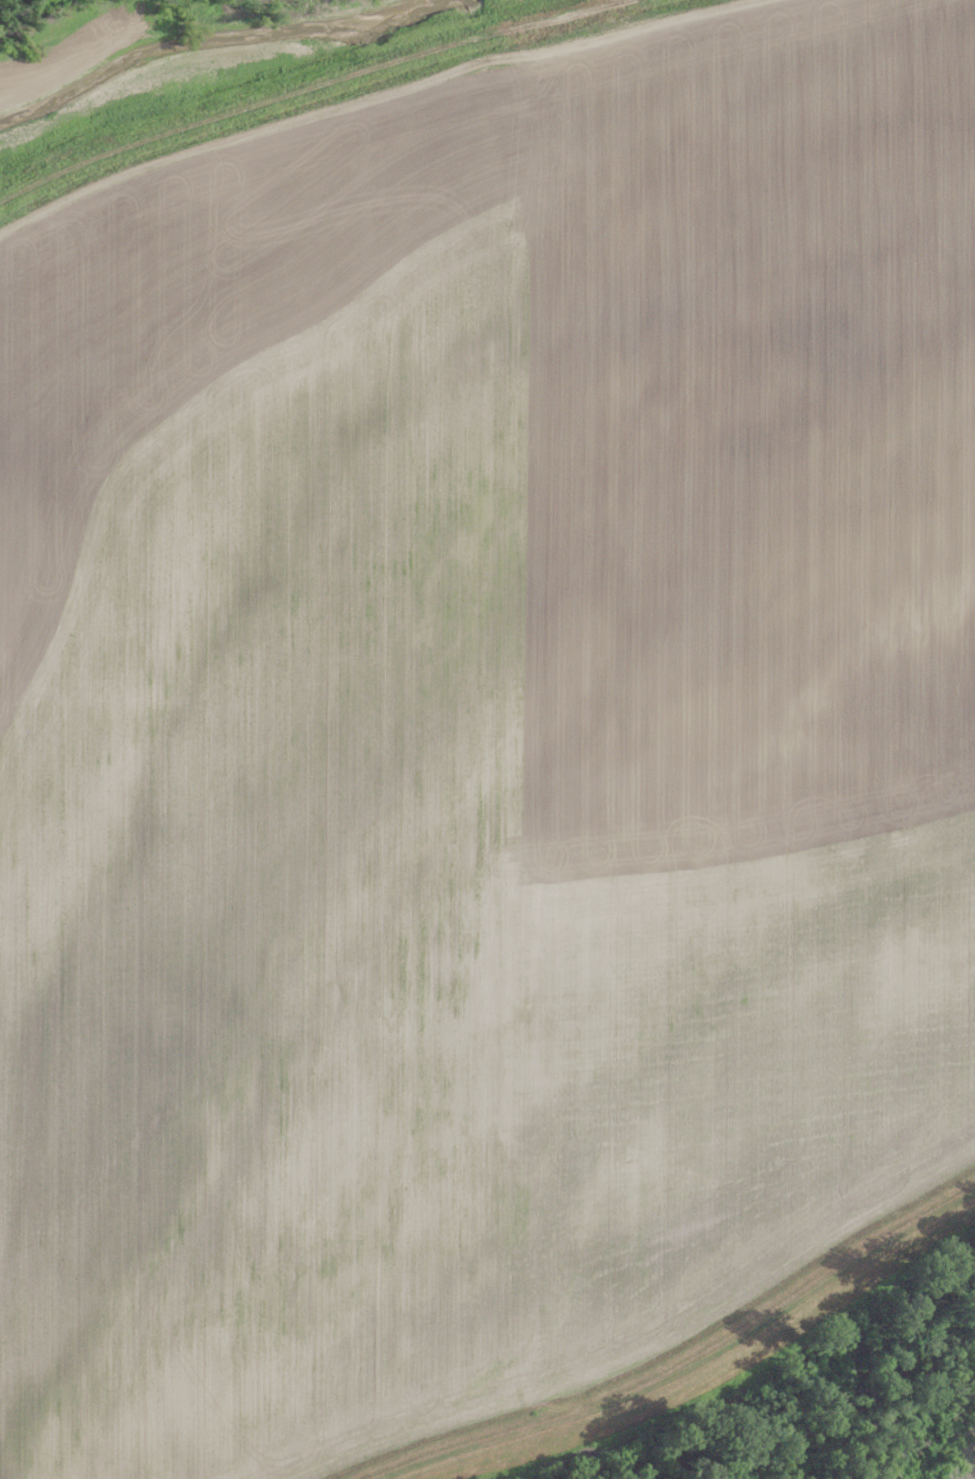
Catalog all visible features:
road: (704, 1366)

